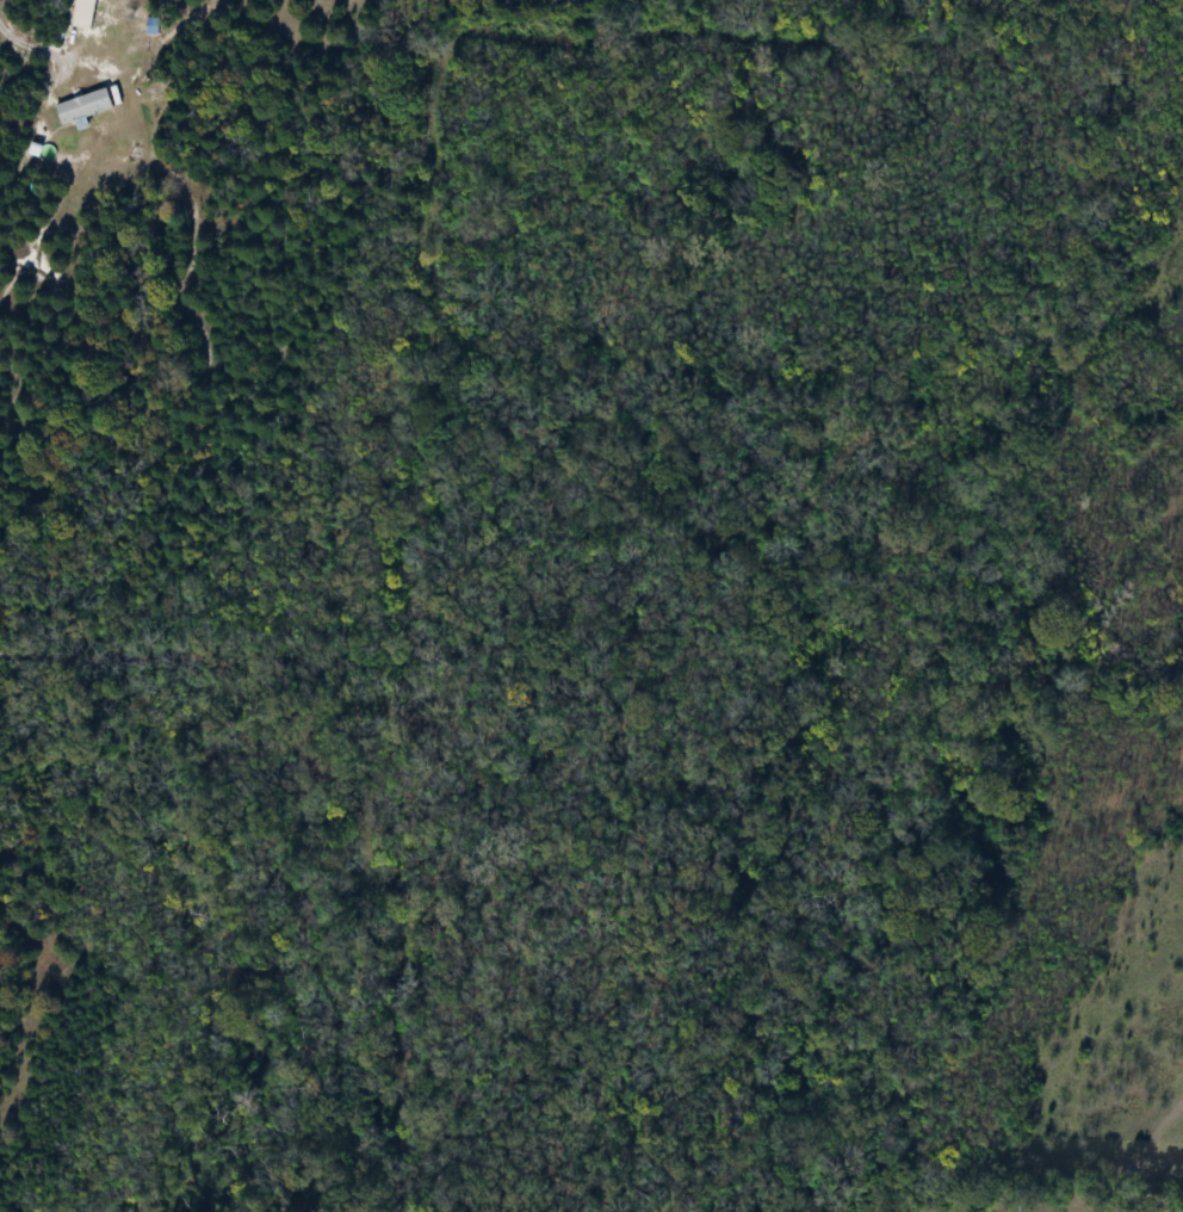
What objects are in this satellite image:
road: (33, 45)

